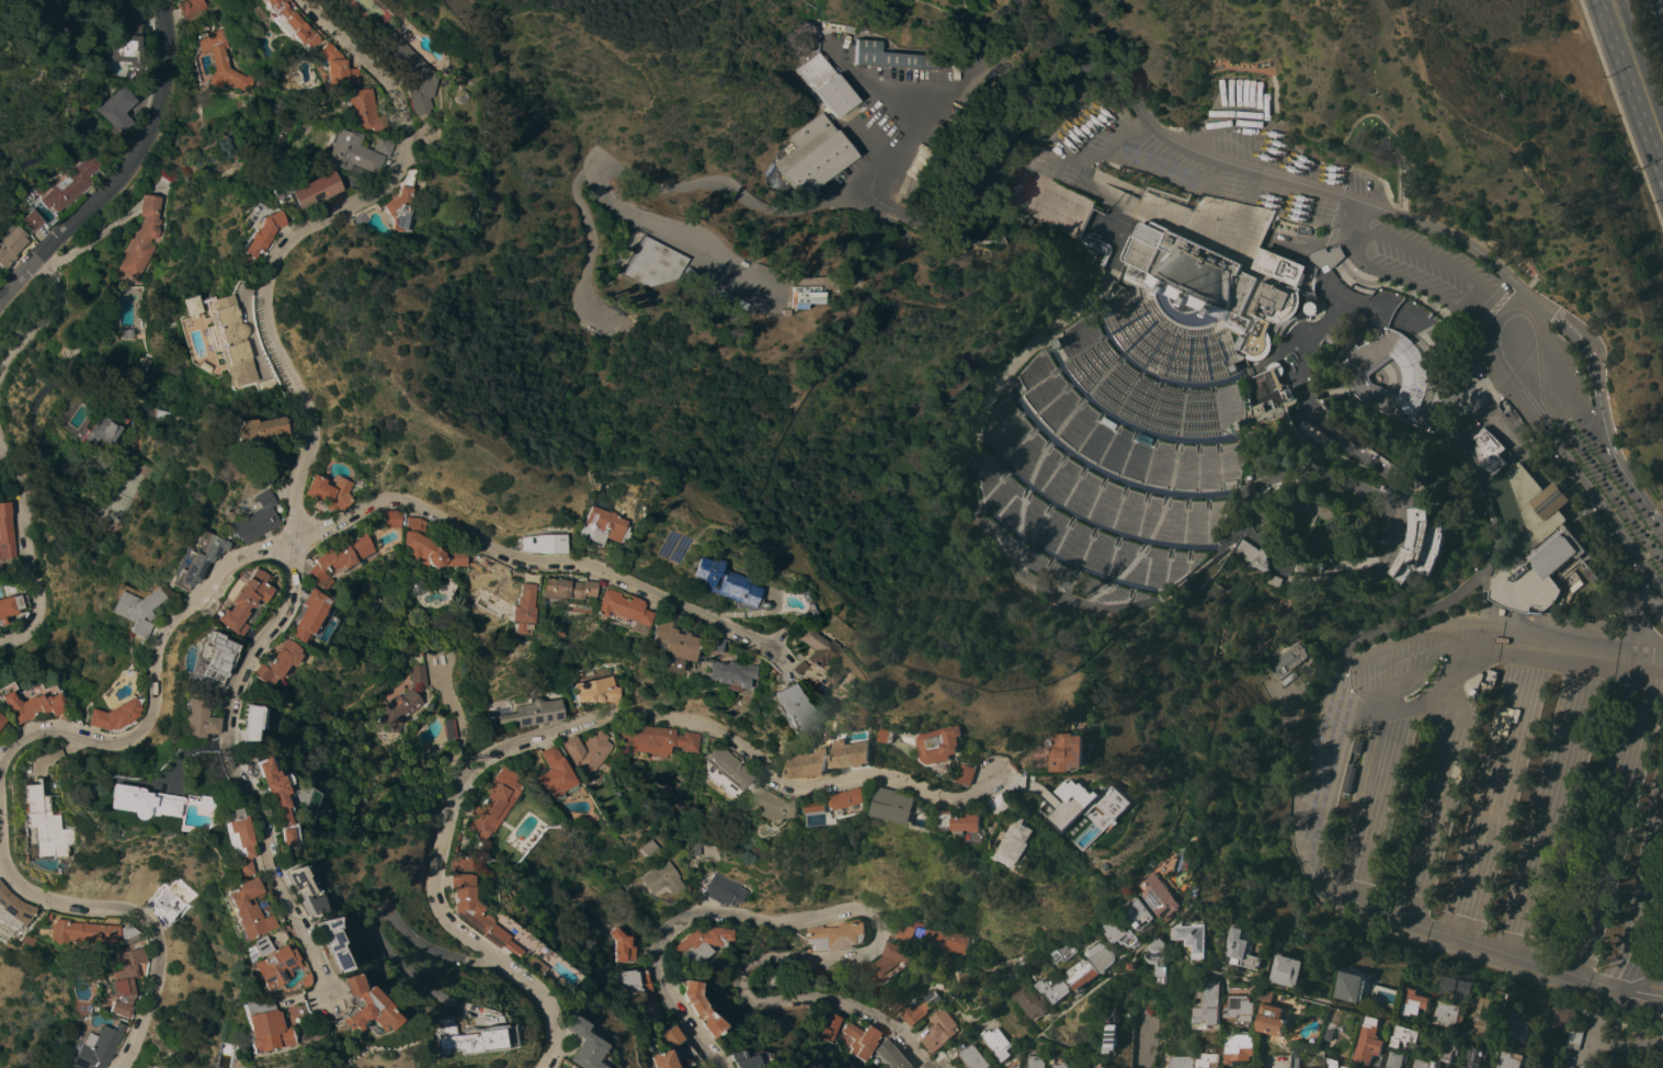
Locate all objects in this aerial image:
building: (191, 7)
building: (395, 12)
building: (292, 23)
building: (839, 27)
building: (127, 36)
building: (811, 42)
road: (1512, 48)
road: (1003, 53)
building: (889, 57)
building: (224, 61)
building: (337, 67)
building: (409, 71)
road: (1271, 71)
building: (827, 84)
road: (1632, 86)
road: (878, 87)
building: (458, 96)
road: (1254, 98)
building: (363, 110)
building: (118, 111)
road: (1082, 129)
road: (1248, 130)
building: (381, 145)
road: (1188, 149)
building: (349, 152)
building: (924, 152)
building: (813, 156)
road: (1405, 162)
road: (125, 169)
road: (1178, 169)
road: (1551, 169)
road: (638, 181)
building: (71, 184)
building: (304, 190)
parking lot: (1242, 191)
road: (1170, 195)
road: (876, 196)
road: (1044, 196)
building: (395, 206)
building: (1063, 208)
road: (1158, 208)
road: (1356, 214)
building: (32, 219)
road: (1106, 226)
building: (1302, 229)
building: (254, 235)
building: (141, 238)
building: (11, 242)
building: (1494, 243)
road: (594, 247)
building: (1095, 247)
road: (1435, 257)
road: (1523, 258)
building: (622, 259)
building: (654, 263)
building: (1279, 265)
building: (1342, 265)
building: (1188, 271)
road: (1415, 283)
road: (1135, 284)
flagpole: (1144, 284)
building: (809, 293)
building: (777, 297)
building: (184, 305)
building: (1105, 309)
road: (1119, 309)
road: (1658, 310)
road: (1394, 311)
building: (1264, 313)
road: (1388, 317)
road: (45, 318)
road: (1496, 320)
road: (1131, 321)
flagpole: (1227, 321)
road: (1176, 329)
building: (126, 334)
road: (1142, 337)
building: (1326, 338)
building: (221, 339)
building: (1058, 340)
building: (1239, 341)
road: (1158, 348)
road: (1173, 355)
road: (1191, 359)
road: (1207, 359)
road: (1227, 359)
building: (148, 362)
building: (197, 366)
building: (1232, 366)
building: (954, 379)
building: (1345, 379)
road: (1187, 383)
building: (255, 385)
building: (1262, 389)
road: (1307, 393)
building: (1290, 394)
road: (292, 407)
road: (1125, 422)
road: (1329, 424)
building: (1516, 424)
building: (1238, 425)
building: (1434, 425)
building: (96, 428)
building: (244, 433)
building: (1318, 436)
road: (975, 447)
building: (1489, 451)
building: (1257, 473)
road: (1409, 473)
building: (311, 491)
road: (1188, 493)
road: (1022, 498)
building: (376, 518)
building: (239, 519)
road: (1086, 519)
building: (584, 526)
road: (1495, 530)
building: (3, 532)
road: (1257, 537)
building: (1069, 539)
building: (1530, 541)
building: (528, 543)
building: (1423, 544)
building: (413, 547)
road: (24, 550)
building: (1254, 555)
building: (185, 556)
building: (322, 556)
road: (1147, 557)
building: (591, 558)
road: (1068, 560)
road: (512, 564)
building: (1590, 573)
building: (1279, 579)
building: (711, 583)
building: (403, 586)
building: (556, 590)
building: (225, 601)
building: (7, 604)
building: (510, 607)
building: (119, 610)
building: (613, 610)
building: (293, 614)
road: (1483, 615)
building: (549, 634)
building: (663, 645)
building: (704, 645)
building: (198, 652)
building: (820, 661)
building: (259, 662)
building: (1289, 662)
building: (785, 668)
building: (725, 673)
building: (413, 674)
road: (1358, 680)
building: (594, 690)
road: (1428, 694)
building: (23, 706)
building: (784, 711)
building: (392, 713)
building: (531, 713)
building: (96, 715)
building: (176, 719)
building: (230, 722)
road: (576, 724)
building: (446, 728)
building: (897, 734)
road: (462, 737)
building: (651, 740)
building: (949, 743)
building: (584, 751)
building: (1073, 751)
building: (861, 752)
building: (816, 763)
building: (725, 768)
building: (976, 773)
road: (210, 774)
building: (553, 775)
building: (1041, 783)
road: (1334, 788)
road: (1494, 796)
parking lot: (1493, 799)
building: (854, 800)
building: (1062, 800)
building: (119, 802)
building: (776, 802)
road: (1436, 802)
building: (181, 803)
building: (492, 803)
building: (1007, 803)
building: (260, 804)
building: (903, 804)
road: (1362, 806)
road: (1547, 808)
building: (820, 814)
road: (1611, 822)
building: (24, 823)
building: (975, 823)
building: (698, 833)
building: (216, 841)
building: (1021, 841)
building: (698, 844)
building: (645, 848)
building: (459, 862)
building: (661, 878)
building: (284, 890)
building: (722, 890)
building: (1160, 896)
building: (620, 900)
building: (151, 905)
building: (226, 908)
building: (8, 911)
building: (471, 911)
road: (1645, 911)
building: (1138, 912)
road: (372, 916)
road: (141, 927)
road: (875, 930)
building: (1117, 931)
building: (76, 932)
building: (834, 935)
building: (932, 935)
building: (1192, 936)
building: (314, 943)
road: (1476, 943)
building: (698, 944)
building: (619, 945)
building: (238, 946)
building: (1241, 947)
building: (1063, 951)
building: (1100, 953)
building: (1159, 955)
building: (1021, 959)
building: (889, 961)
building: (1216, 964)
building: (525, 965)
building: (1134, 965)
building: (252, 966)
building: (1287, 969)
building: (1081, 973)
building: (114, 980)
building: (281, 980)
building: (631, 980)
building: (1351, 986)
building: (1456, 986)
building: (1056, 989)
road: (1648, 990)
road: (1085, 996)
building: (1029, 1001)
building: (1413, 1001)
road: (1333, 1002)
building: (1210, 1003)
building: (344, 1007)
building: (899, 1007)
building: (697, 1008)
building: (1240, 1009)
building: (1447, 1013)
building: (1272, 1014)
building: (1483, 1015)
building: (1562, 1018)
building: (241, 1026)
building: (827, 1026)
building: (938, 1029)
building: (1519, 1030)
building: (1329, 1031)
building: (1109, 1034)
building: (663, 1036)
building: (1405, 1037)
building: (1573, 1037)
building: (444, 1039)
building: (861, 1039)
park: (1637, 1039)
road: (1144, 1041)
building: (1367, 1041)
building: (996, 1042)
building: (567, 1043)
road: (1637, 1046)
building: (87, 1047)
building: (1239, 1047)
road: (1592, 1048)
road: (1084, 1050)
building: (1448, 1053)
building: (890, 1056)
building: (1477, 1056)
building: (973, 1057)
building: (1295, 1058)
building: (652, 1059)
building: (733, 1059)
building: (1394, 1059)
building: (1511, 1059)
building: (1209, 1060)
building: (1035, 1061)
building: (1180, 1061)
building: (1013, 1064)
building: (1061, 1064)
building: (1334, 1064)
building: (1423, 1064)
building: (1562, 1065)
building: (950, 1066)
building: (196, 1067)
building: (551, 1067)
building: (1314, 1067)

